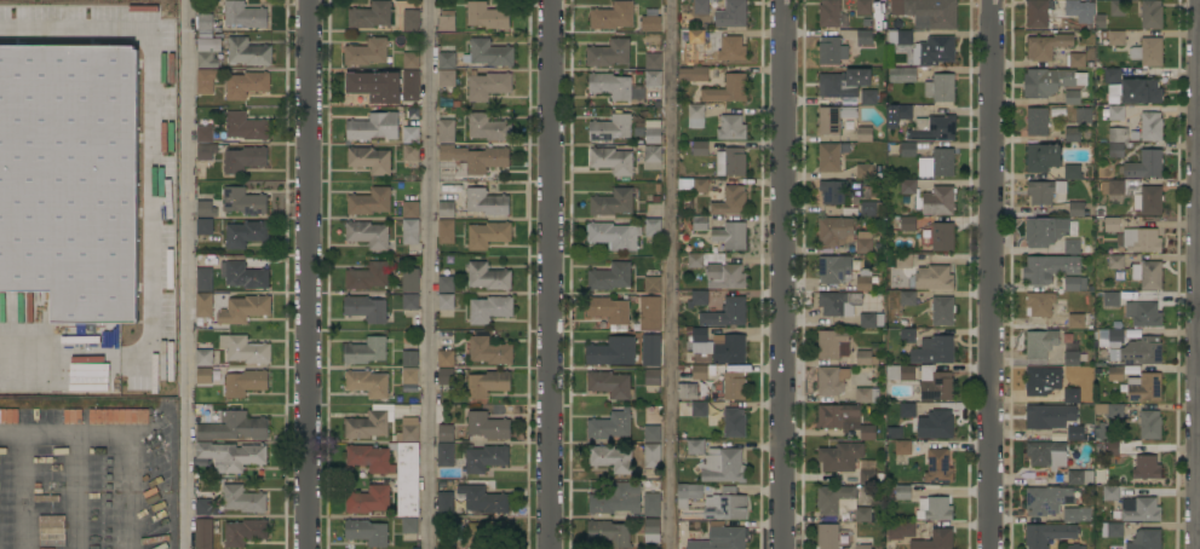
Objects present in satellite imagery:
building: (701, 7)
building: (863, 7)
building: (1072, 7)
building: (1116, 7)
building: (1090, 10)
building: (928, 12)
building: (828, 13)
building: (1037, 13)
building: (245, 15)
building: (369, 15)
building: (731, 15)
building: (1150, 15)
building: (487, 16)
building: (612, 16)
road: (76, 21)
building: (410, 21)
building: (446, 21)
building: (205, 22)
building: (650, 23)
building: (1099, 23)
building: (695, 36)
building: (863, 37)
building: (900, 37)
building: (1115, 39)
building: (208, 45)
building: (1046, 46)
building: (728, 48)
building: (832, 51)
building: (934, 51)
building: (247, 52)
building: (367, 52)
building: (1149, 52)
building: (489, 53)
building: (608, 53)
building: (206, 59)
building: (410, 60)
building: (446, 60)
building: (1075, 60)
building: (653, 62)
building: (693, 74)
building: (901, 75)
building: (1112, 76)
building: (446, 79)
building: (653, 79)
building: (205, 81)
building: (1047, 81)
building: (843, 82)
building: (246, 85)
building: (385, 86)
building: (487, 86)
building: (610, 86)
building: (940, 87)
building: (727, 89)
building: (1136, 91)
building: (868, 97)
building: (1072, 98)
building: (1114, 112)
building: (695, 115)
building: (897, 115)
building: (1083, 116)
building: (833, 119)
building: (1037, 121)
building: (246, 127)
building: (373, 127)
building: (488, 127)
building: (610, 127)
building: (730, 127)
building: (1150, 127)
building: (932, 128)
building: (446, 131)
building: (653, 132)
building: (203, 134)
building: (409, 134)
building: (863, 134)
building: (1072, 135)
building: (1116, 141)
building: (700, 149)
building: (907, 150)
building: (409, 152)
building: (232, 156)
building: (475, 157)
building: (1041, 157)
building: (651, 158)
building: (828, 158)
building: (369, 160)
building: (612, 161)
building: (730, 162)
building: (942, 162)
building: (1144, 166)
building: (863, 172)
building: (1072, 173)
building: (70, 179)
building: (699, 186)
building: (907, 186)
building: (1115, 186)
building: (855, 190)
building: (832, 191)
building: (1044, 191)
building: (243, 201)
building: (730, 201)
building: (936, 201)
building: (1148, 201)
building: (369, 202)
building: (486, 202)
building: (612, 202)
building: (205, 209)
building: (409, 209)
building: (446, 209)
building: (869, 209)
building: (1075, 209)
building: (699, 223)
building: (907, 224)
building: (1110, 225)
building: (203, 226)
building: (651, 227)
building: (409, 231)
building: (833, 231)
building: (1045, 231)
building: (446, 232)
building: (245, 235)
building: (367, 235)
building: (487, 235)
building: (614, 236)
building: (730, 236)
building: (942, 237)
building: (1141, 241)
building: (863, 247)
building: (1070, 247)
building: (903, 261)
building: (1115, 262)
building: (1049, 268)
building: (717, 270)
building: (833, 270)
road: (188, 274)
road: (304, 274)
road: (430, 274)
road: (552, 274)
road: (671, 274)
road: (780, 274)
road: (987, 274)
building: (1147, 274)
road: (1195, 274)
building: (242, 276)
building: (367, 276)
building: (487, 276)
building: (609, 277)
building: (932, 278)
building: (203, 279)
building: (409, 279)
building: (446, 284)
building: (863, 284)
building: (1069, 284)
building: (651, 285)
building: (697, 297)
building: (907, 299)
building: (1110, 300)
building: (409, 301)
building: (444, 302)
building: (838, 304)
building: (1039, 305)
building: (1060, 307)
building: (364, 308)
building: (230, 310)
building: (489, 310)
building: (608, 310)
building: (942, 312)
building: (649, 313)
building: (725, 313)
building: (1143, 314)
building: (867, 320)
building: (1074, 320)
building: (907, 335)
building: (1112, 335)
road: (80, 336)
building: (1039, 343)
building: (832, 345)
building: (714, 347)
building: (243, 349)
building: (363, 351)
building: (489, 351)
building: (607, 351)
building: (932, 351)
building: (1137, 352)
building: (203, 358)
building: (409, 358)
building: (444, 358)
building: (865, 358)
building: (651, 359)
building: (1070, 359)
building: (699, 371)
building: (900, 372)
building: (1115, 374)
building: (202, 376)
building: (409, 376)
building: (446, 377)
building: (651, 377)
building: (831, 381)
building: (1035, 382)
building: (245, 383)
building: (367, 383)
building: (487, 383)
building: (609, 385)
building: (935, 385)
building: (731, 386)
building: (1143, 388)
building: (687, 391)
building: (866, 395)
building: (1070, 395)
building: (697, 409)
building: (907, 410)
building: (1109, 410)
building: (8, 416)
building: (40, 416)
building: (117, 416)
building: (73, 417)
building: (843, 420)
building: (1053, 421)
building: (733, 422)
building: (610, 424)
building: (941, 424)
building: (1149, 424)
building: (367, 426)
building: (487, 426)
building: (232, 427)
building: (407, 429)
building: (1099, 432)
building: (444, 433)
building: (650, 433)
building: (902, 447)
building: (694, 449)
building: (1110, 449)
building: (1046, 453)
building: (444, 455)
building: (231, 456)
building: (651, 456)
building: (840, 456)
building: (369, 458)
building: (484, 458)
building: (610, 458)
building: (722, 466)
building: (937, 467)
building: (1146, 468)
building: (407, 478)
building: (867, 478)
building: (1079, 478)
building: (902, 492)
building: (1110, 493)
building: (688, 495)
building: (242, 499)
building: (368, 499)
building: (616, 499)
building: (1046, 499)
building: (471, 501)
building: (46, 502)
building: (840, 503)
building: (650, 504)
building: (725, 505)
building: (203, 507)
building: (934, 509)
building: (154, 510)
building: (1143, 510)
building: (1075, 515)
building: (408, 525)
building: (52, 530)
building: (650, 530)
building: (900, 531)
building: (245, 532)
building: (366, 532)
building: (486, 532)
building: (609, 532)
building: (202, 533)
building: (1047, 534)
building: (1112, 534)
building: (827, 536)
building: (719, 538)
building: (1149, 538)
building: (935, 539)
building: (156, 541)
building: (863, 547)
building: (1074, 547)
building: (45, 548)

